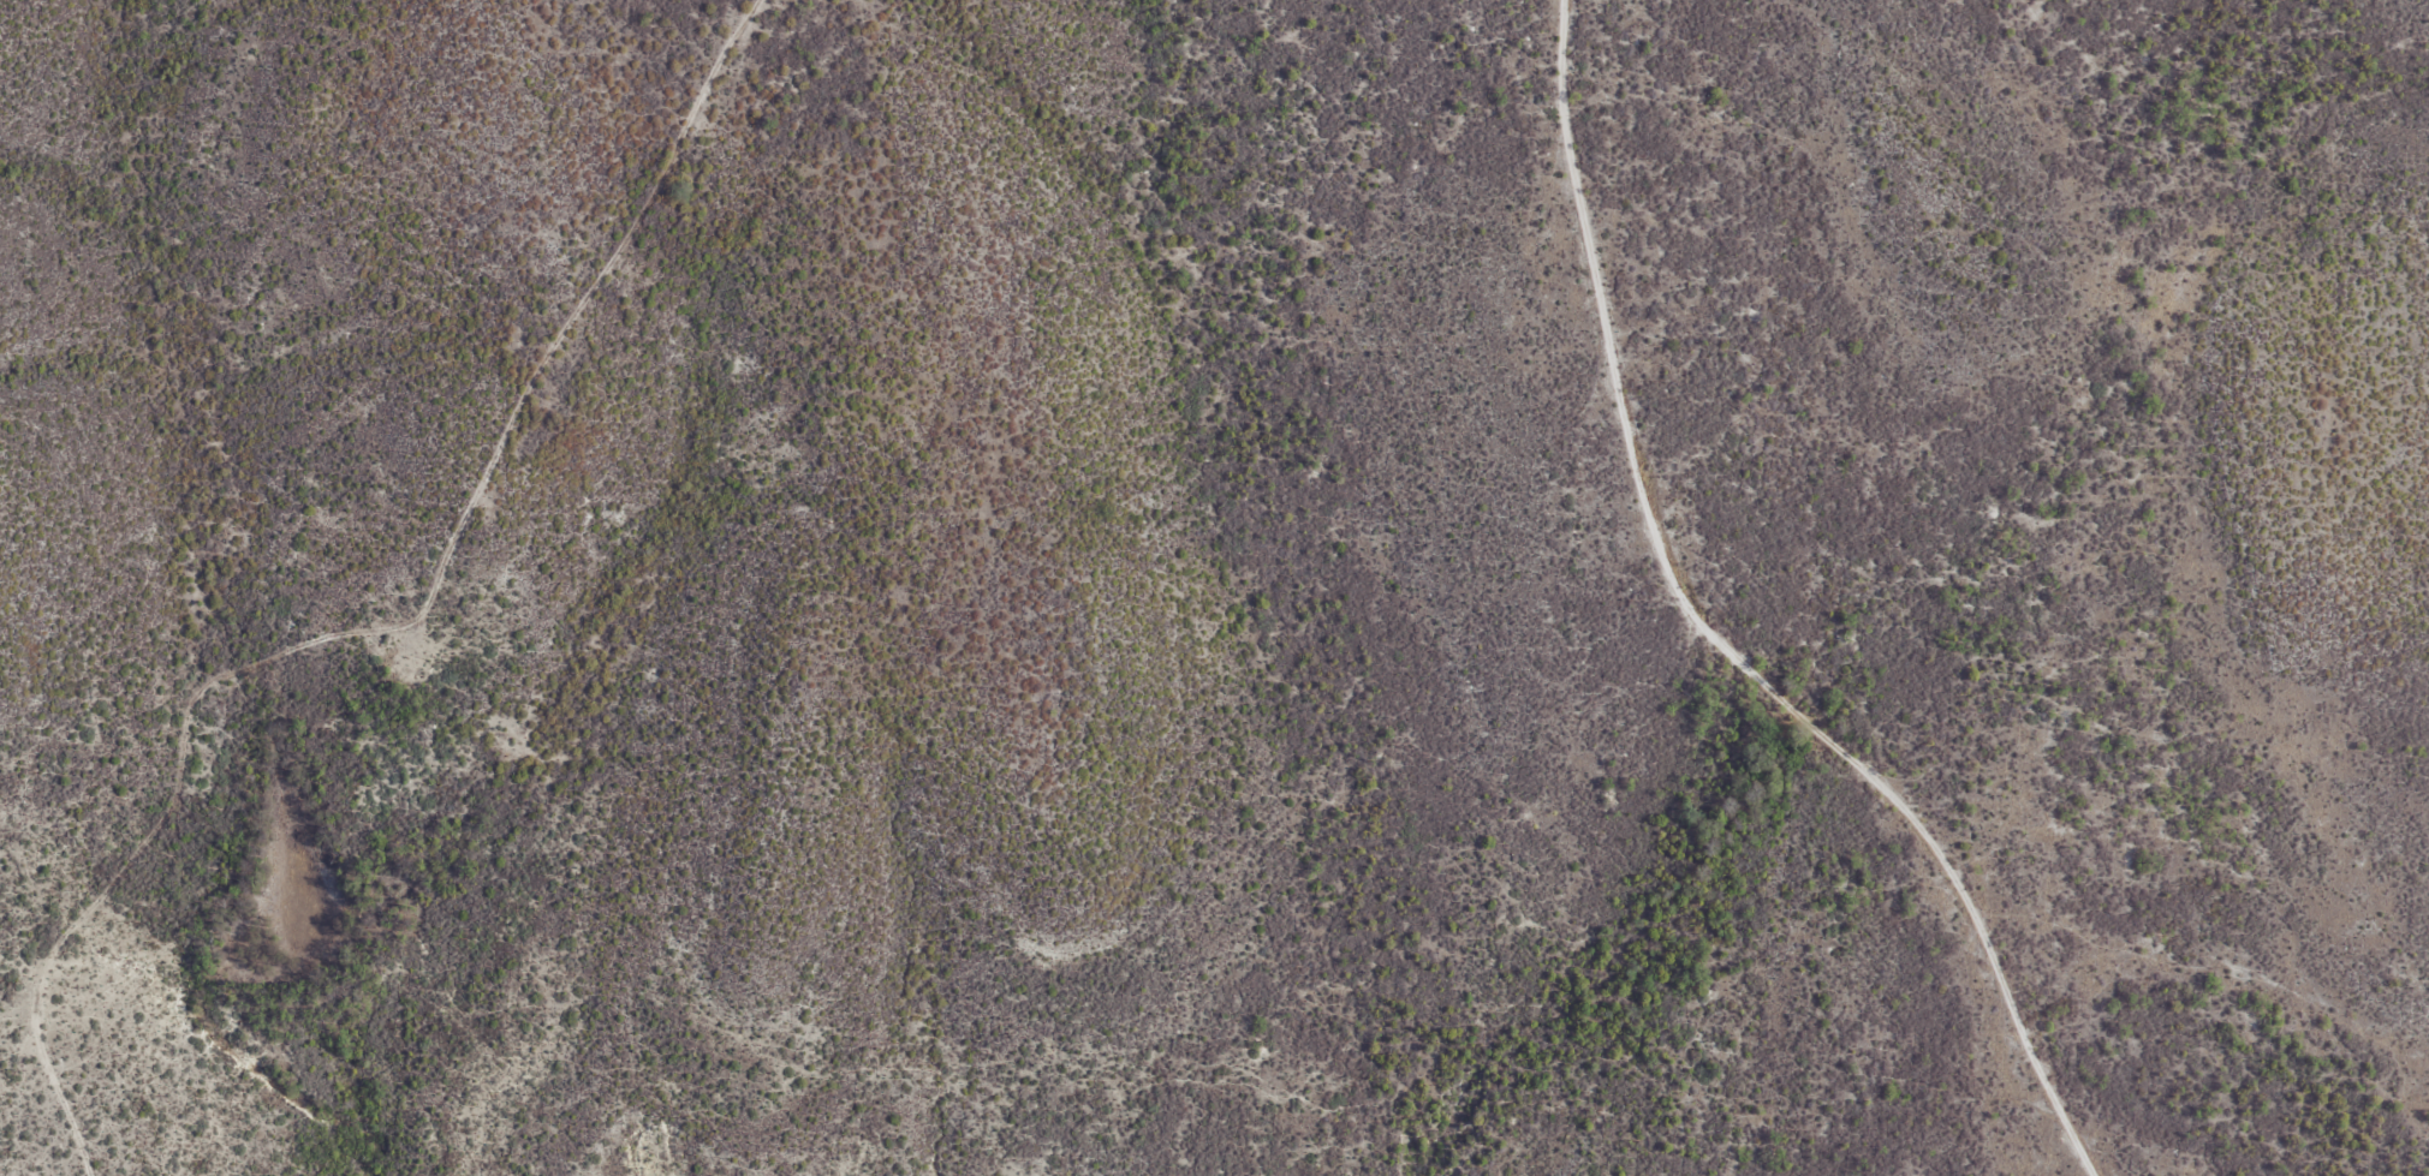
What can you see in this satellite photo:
road: (561, 346)
road: (1727, 637)

